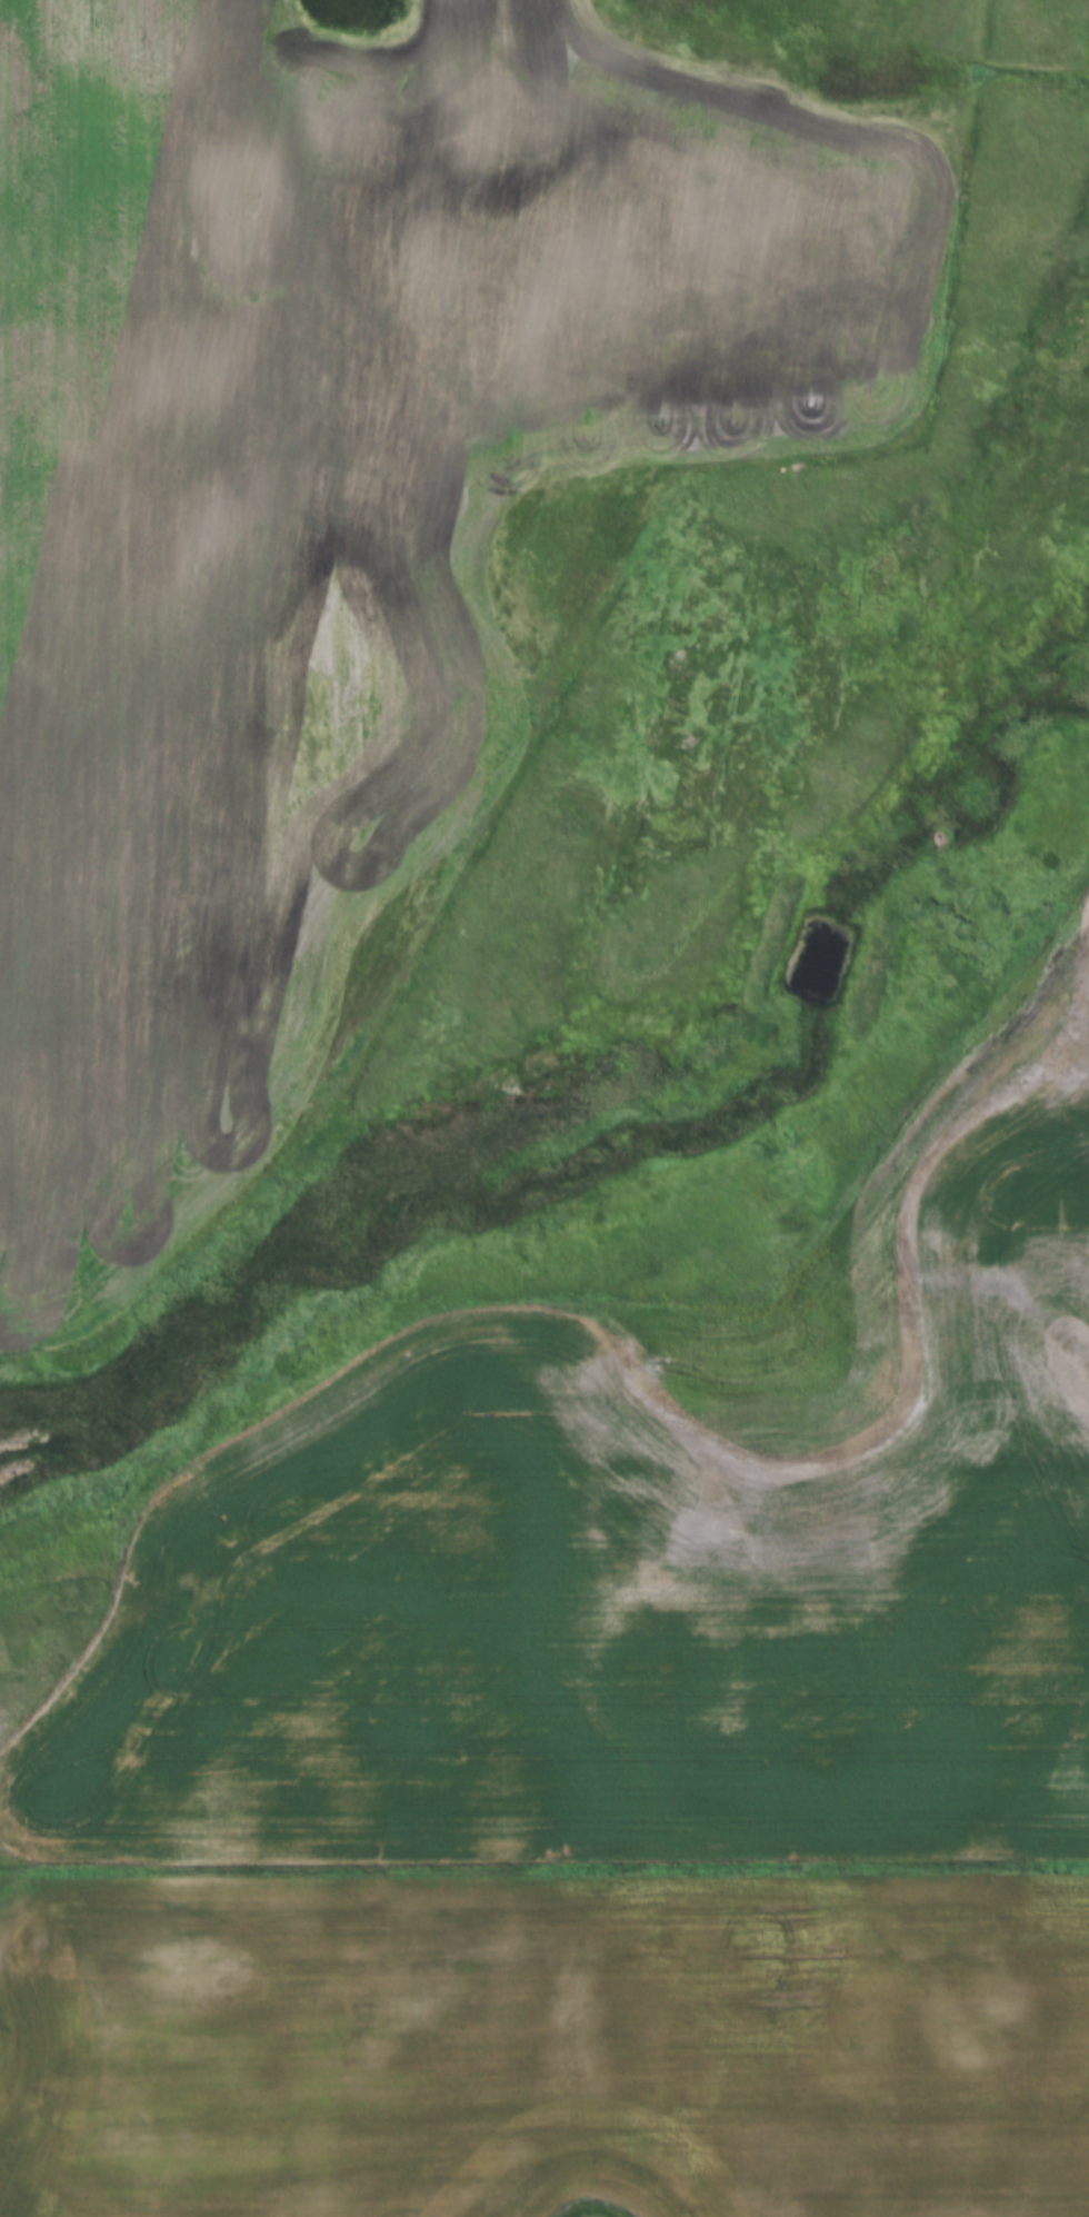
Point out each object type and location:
road: (544, 1846)

